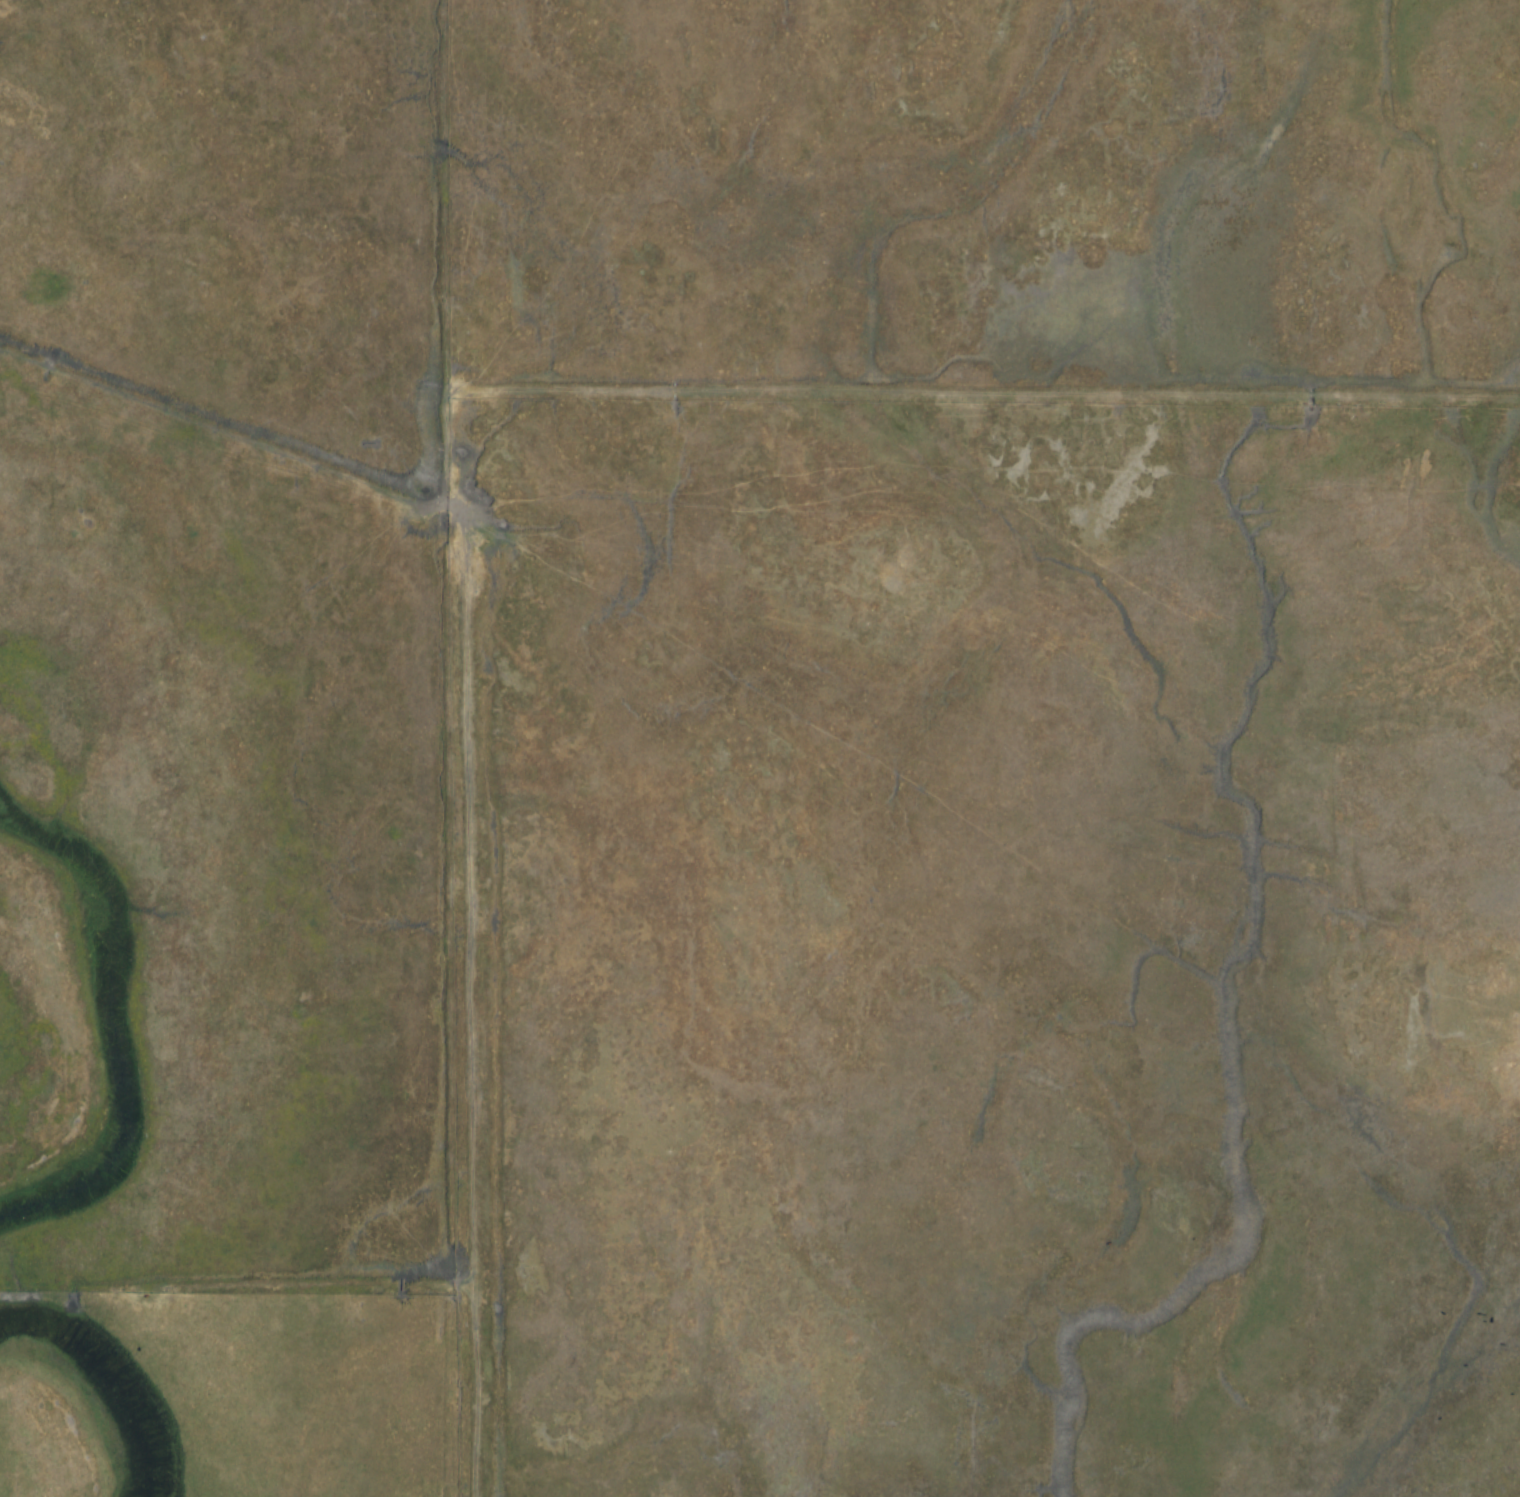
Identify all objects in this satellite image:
road: (992, 394)

